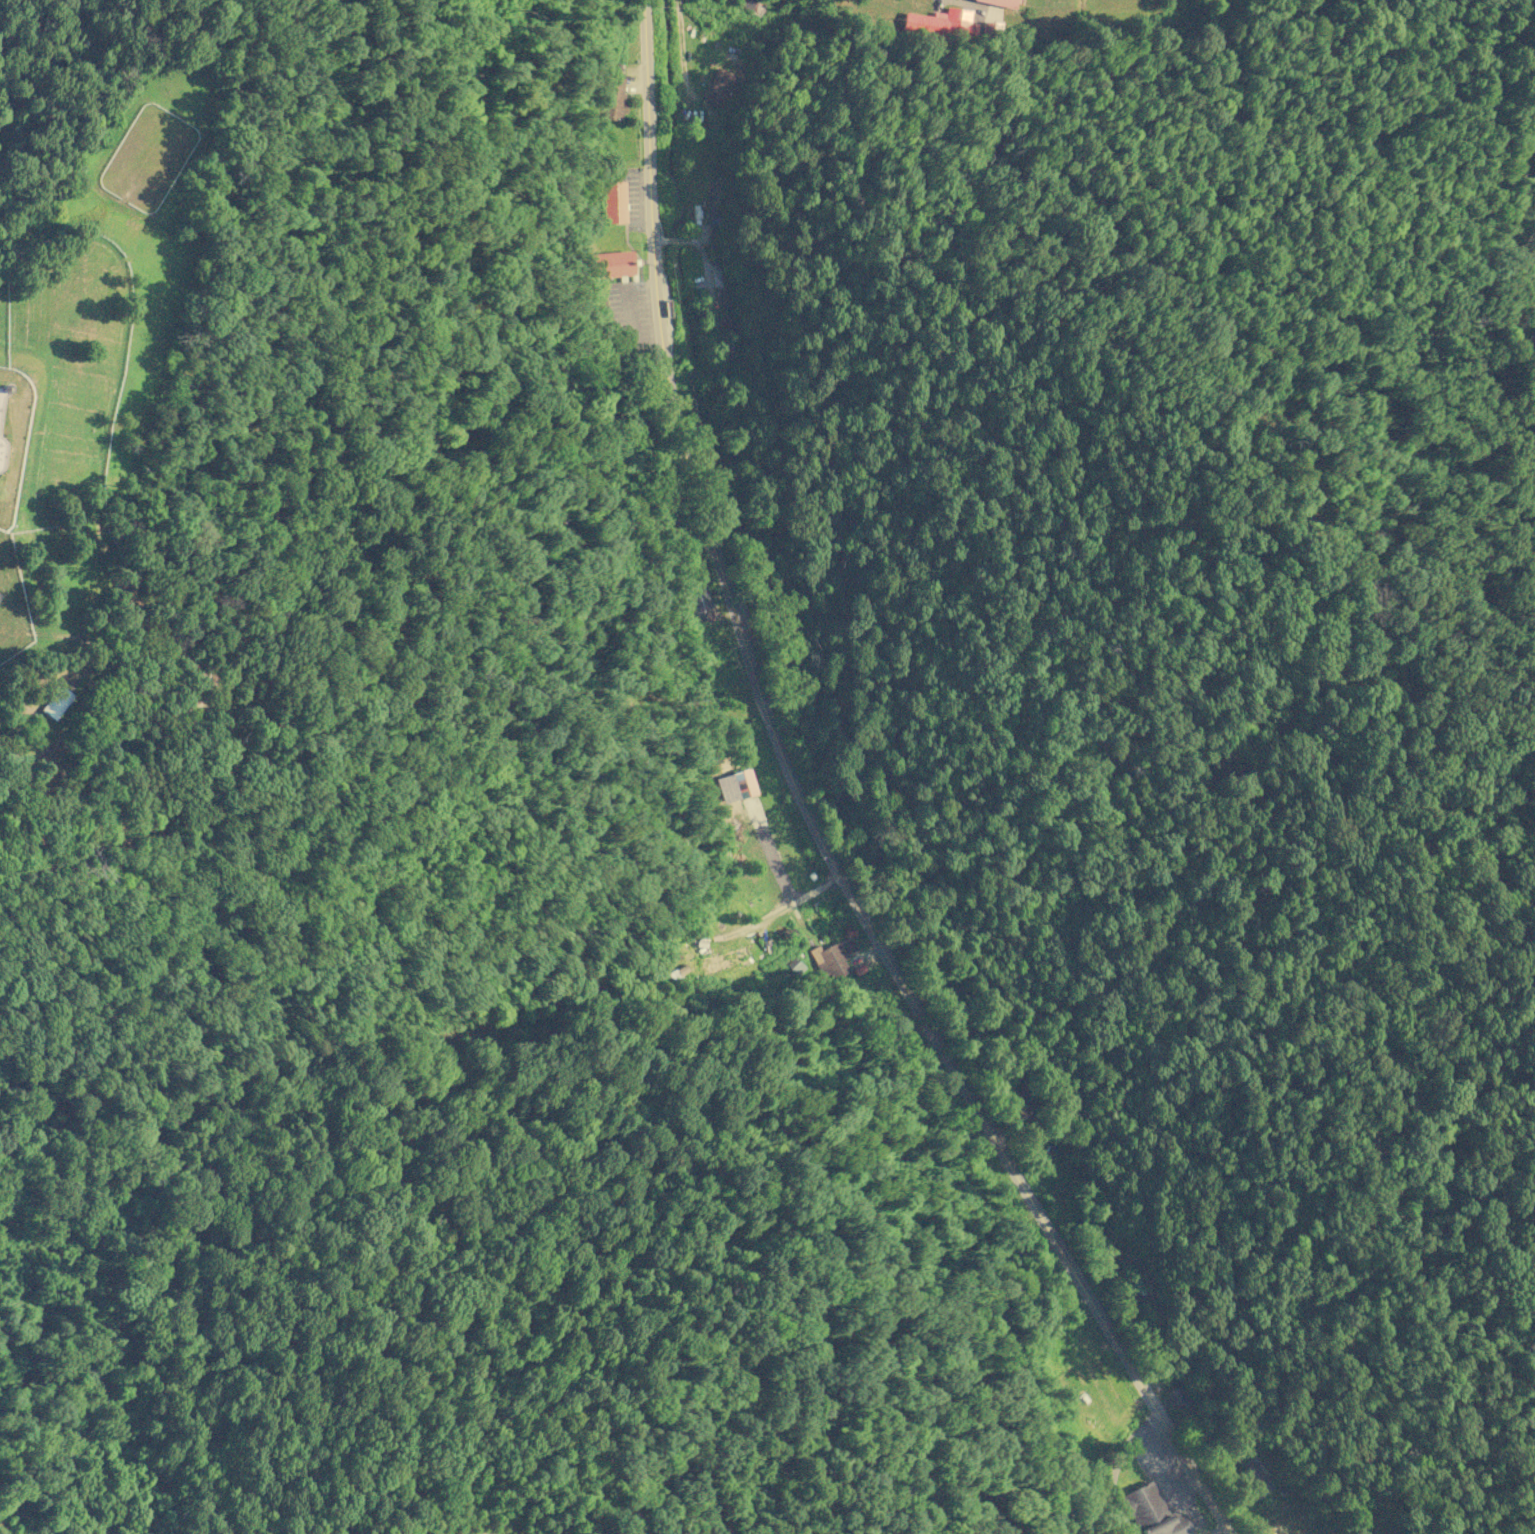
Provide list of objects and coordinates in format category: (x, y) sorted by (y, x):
building: (999, 3)
road: (979, 7)
building: (942, 23)
building: (717, 86)
building: (613, 98)
building: (612, 202)
building: (610, 264)
building: (727, 326)
building: (697, 602)
building: (55, 702)
building: (741, 783)
road: (809, 811)
building: (833, 958)
building: (794, 966)
building: (1177, 1397)
building: (1255, 1480)
building: (1148, 1512)

